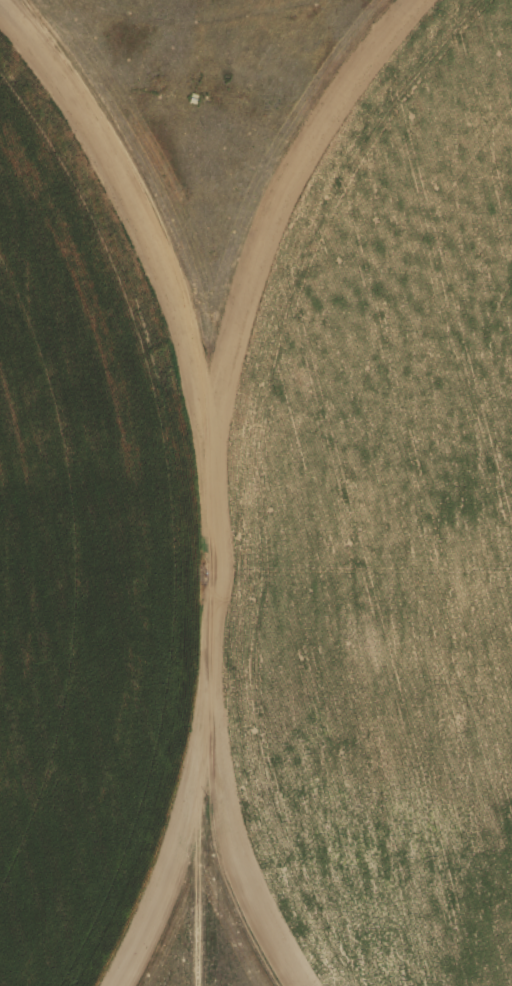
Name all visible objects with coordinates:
road: (6, 979)

